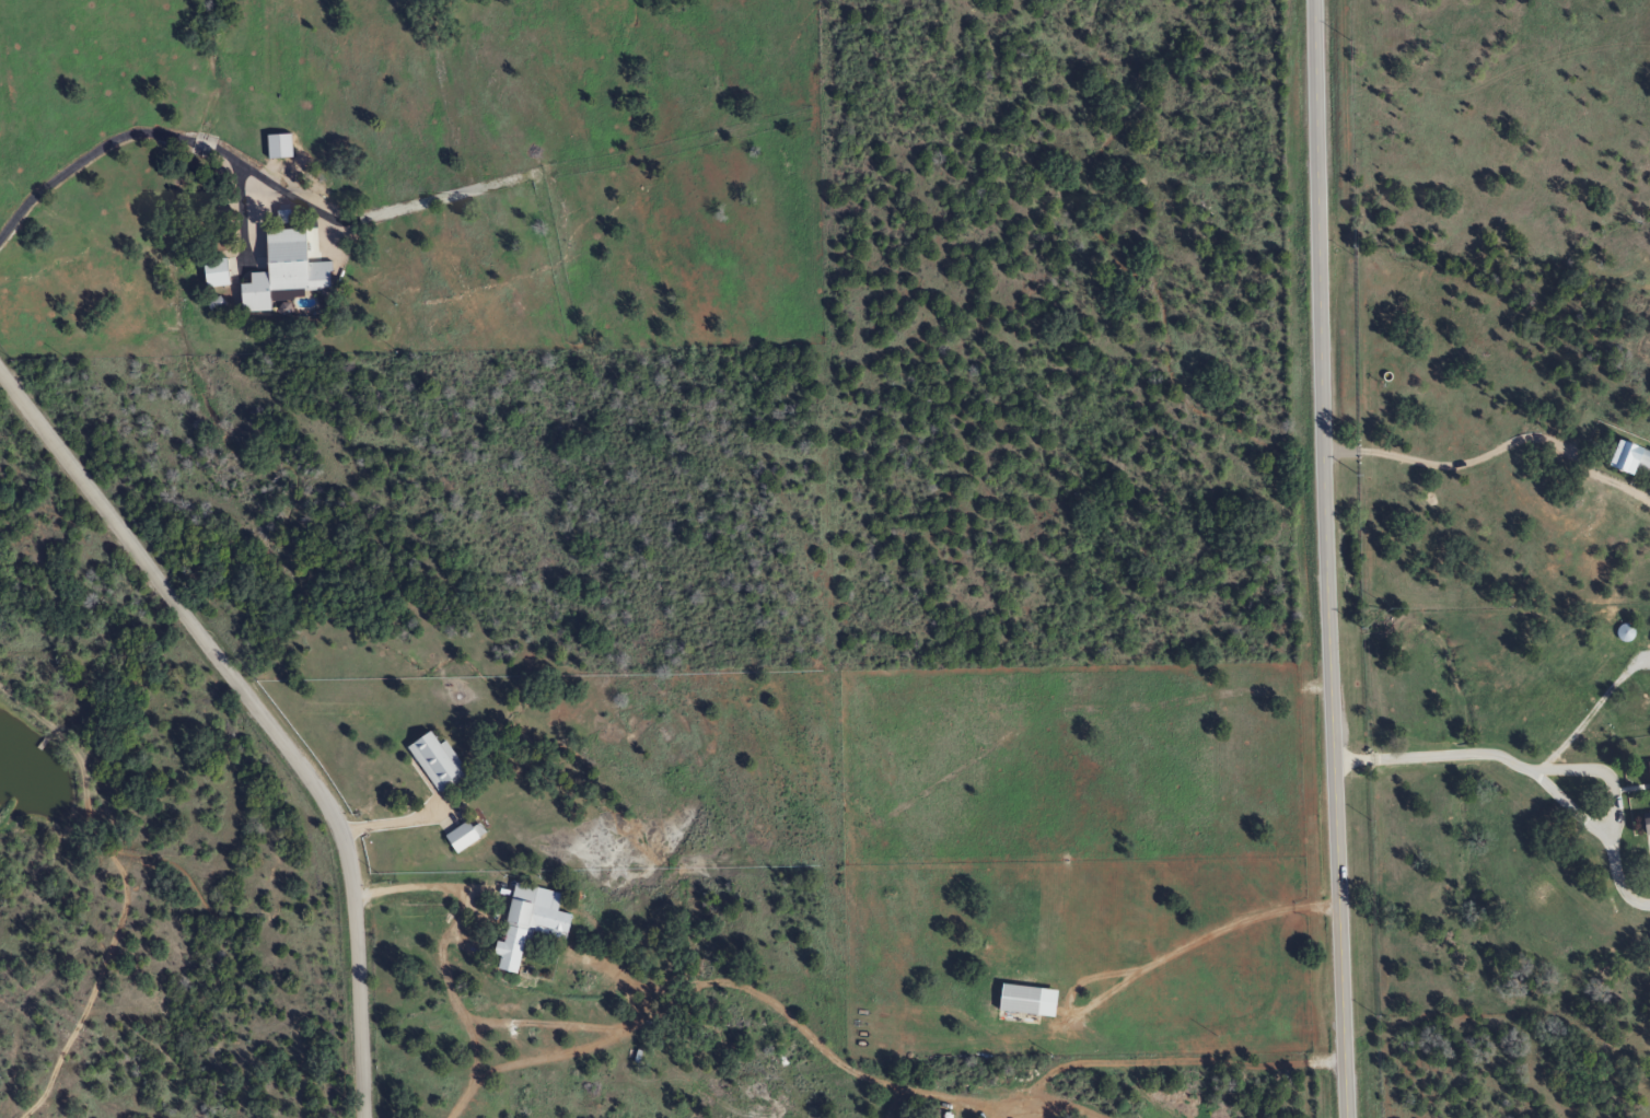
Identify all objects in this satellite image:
road: (123, 136)
building: (277, 152)
building: (280, 270)
building: (211, 272)
building: (1625, 458)
road: (1324, 559)
road: (260, 714)
building: (433, 761)
road: (1544, 781)
building: (1647, 788)
building: (458, 837)
road: (457, 898)
building: (524, 923)
building: (1013, 1000)

